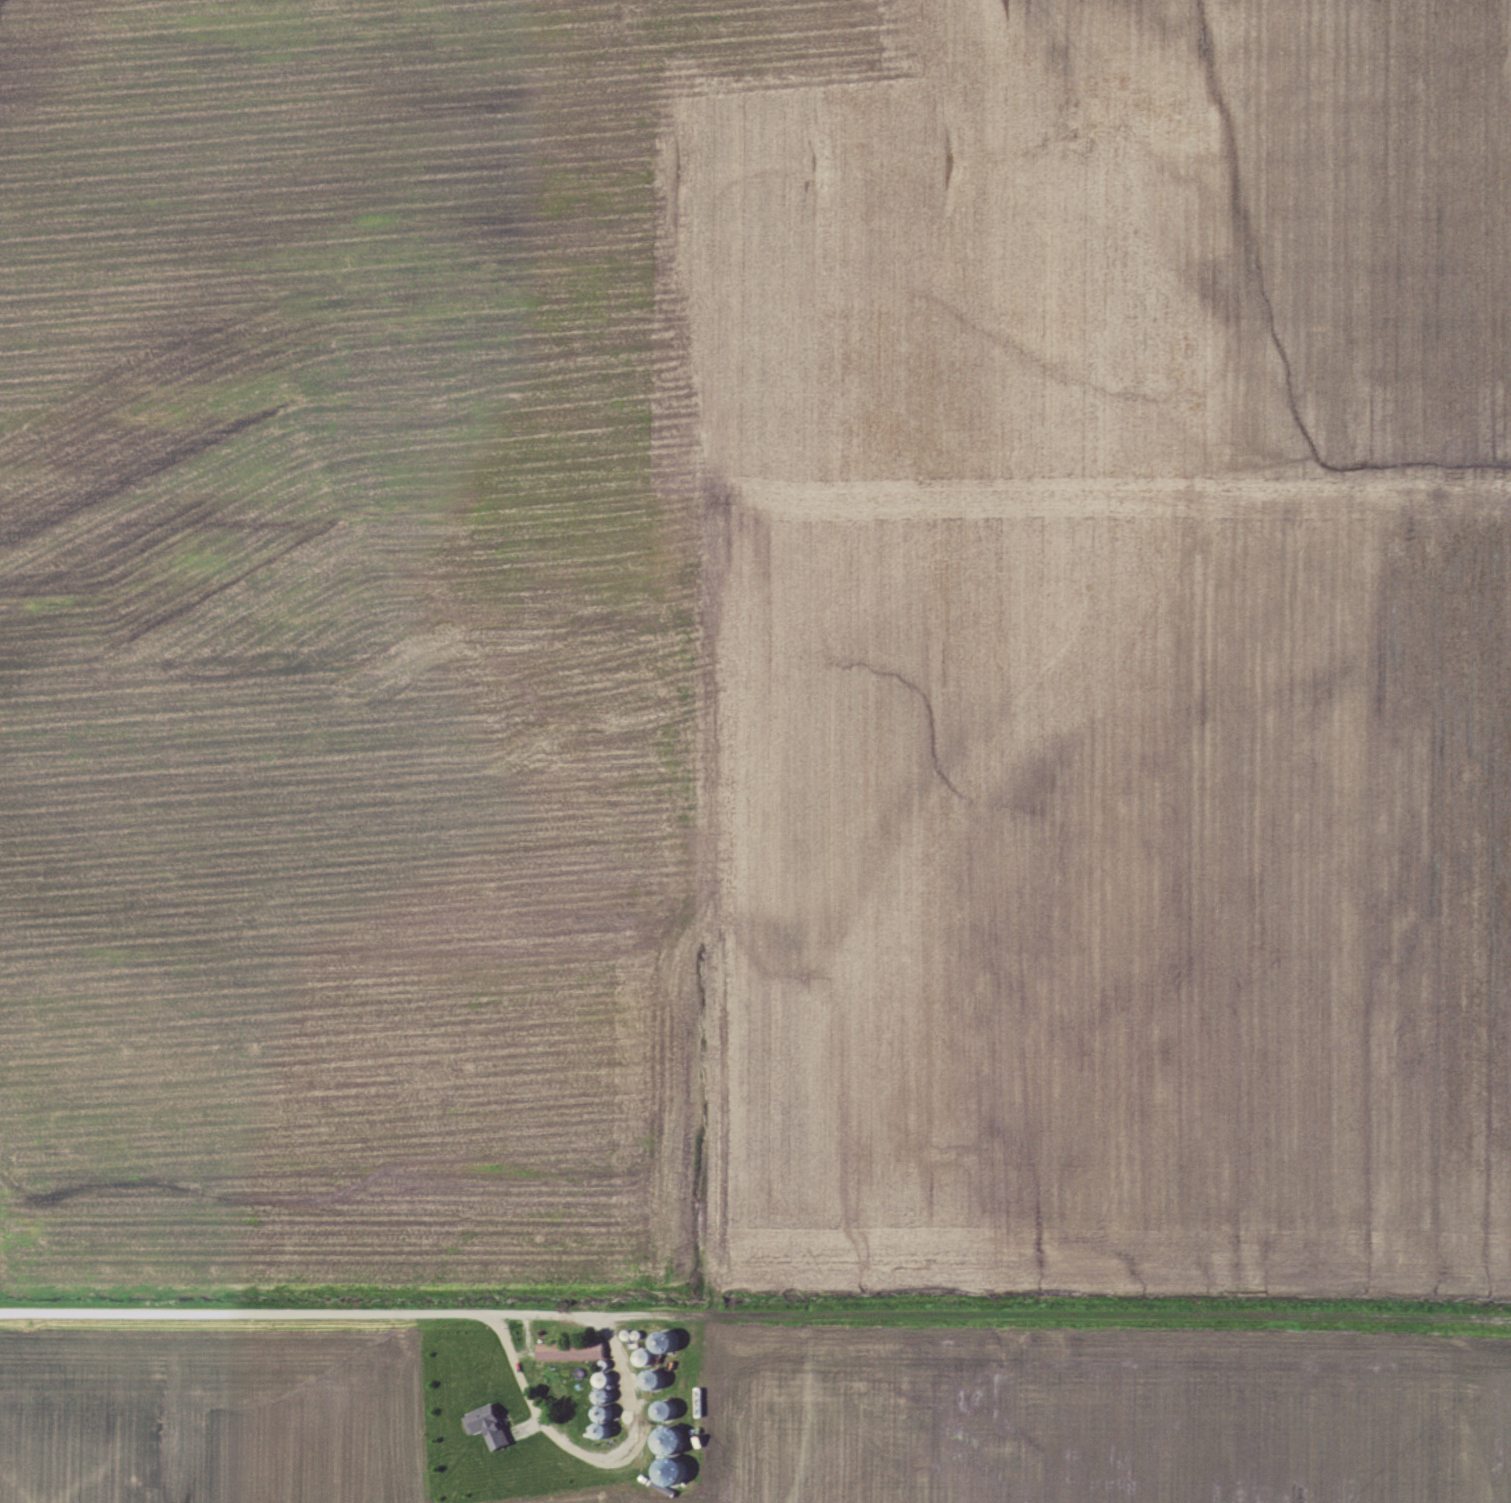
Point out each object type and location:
road: (755, 1310)
building: (555, 1383)
building: (491, 1424)
road: (594, 1451)

